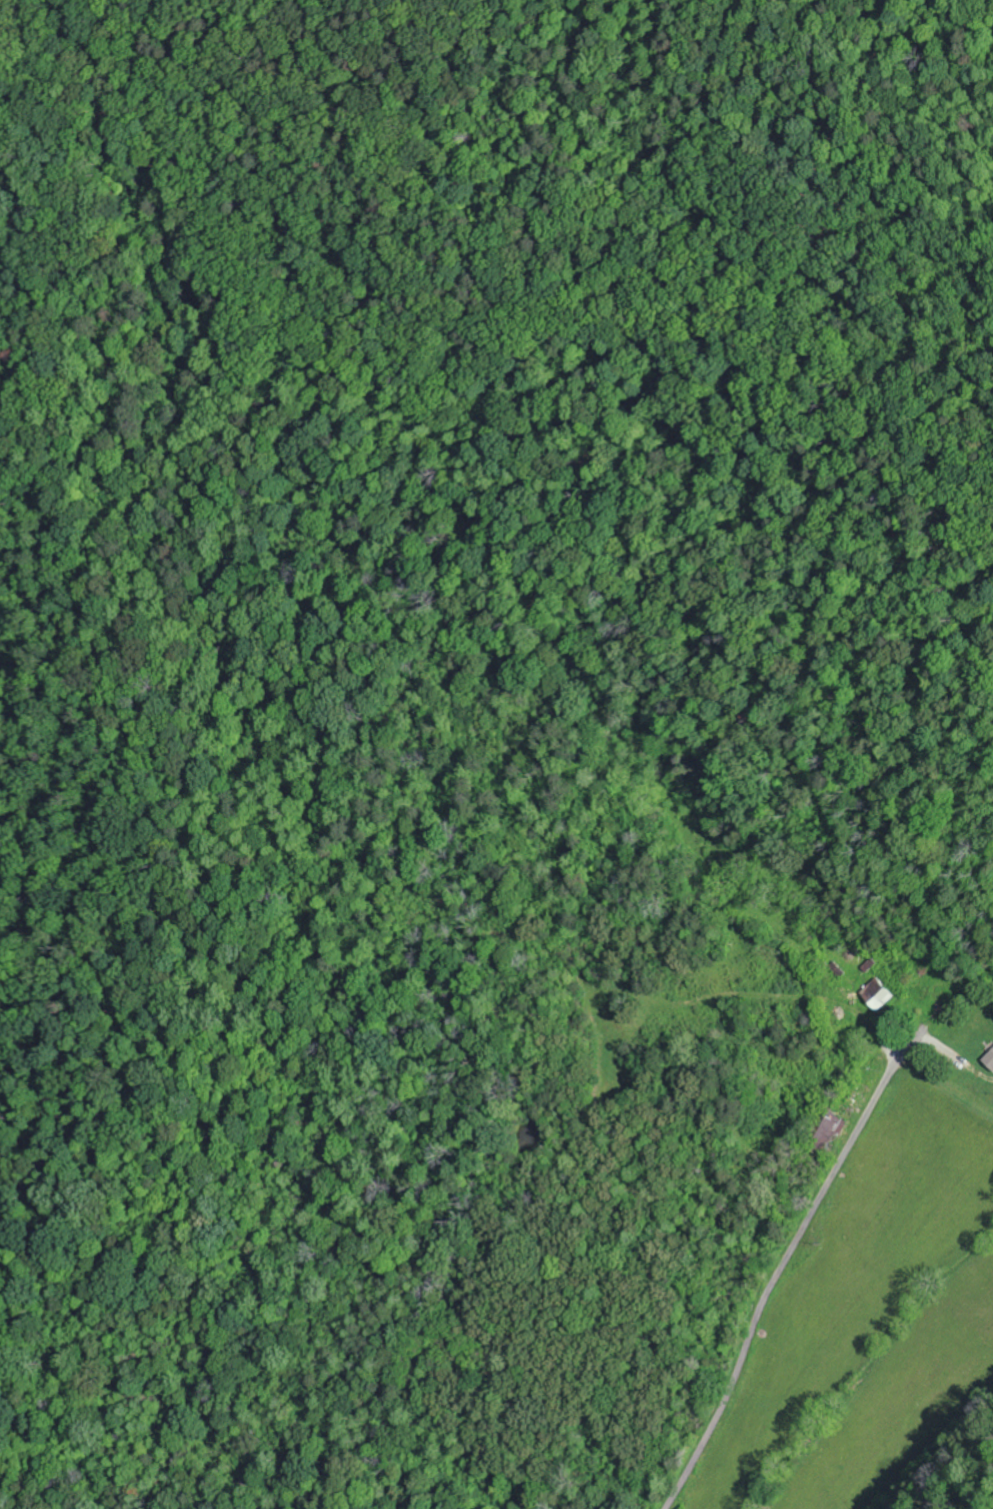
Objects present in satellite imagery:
building: (989, 1061)
road: (768, 1291)

